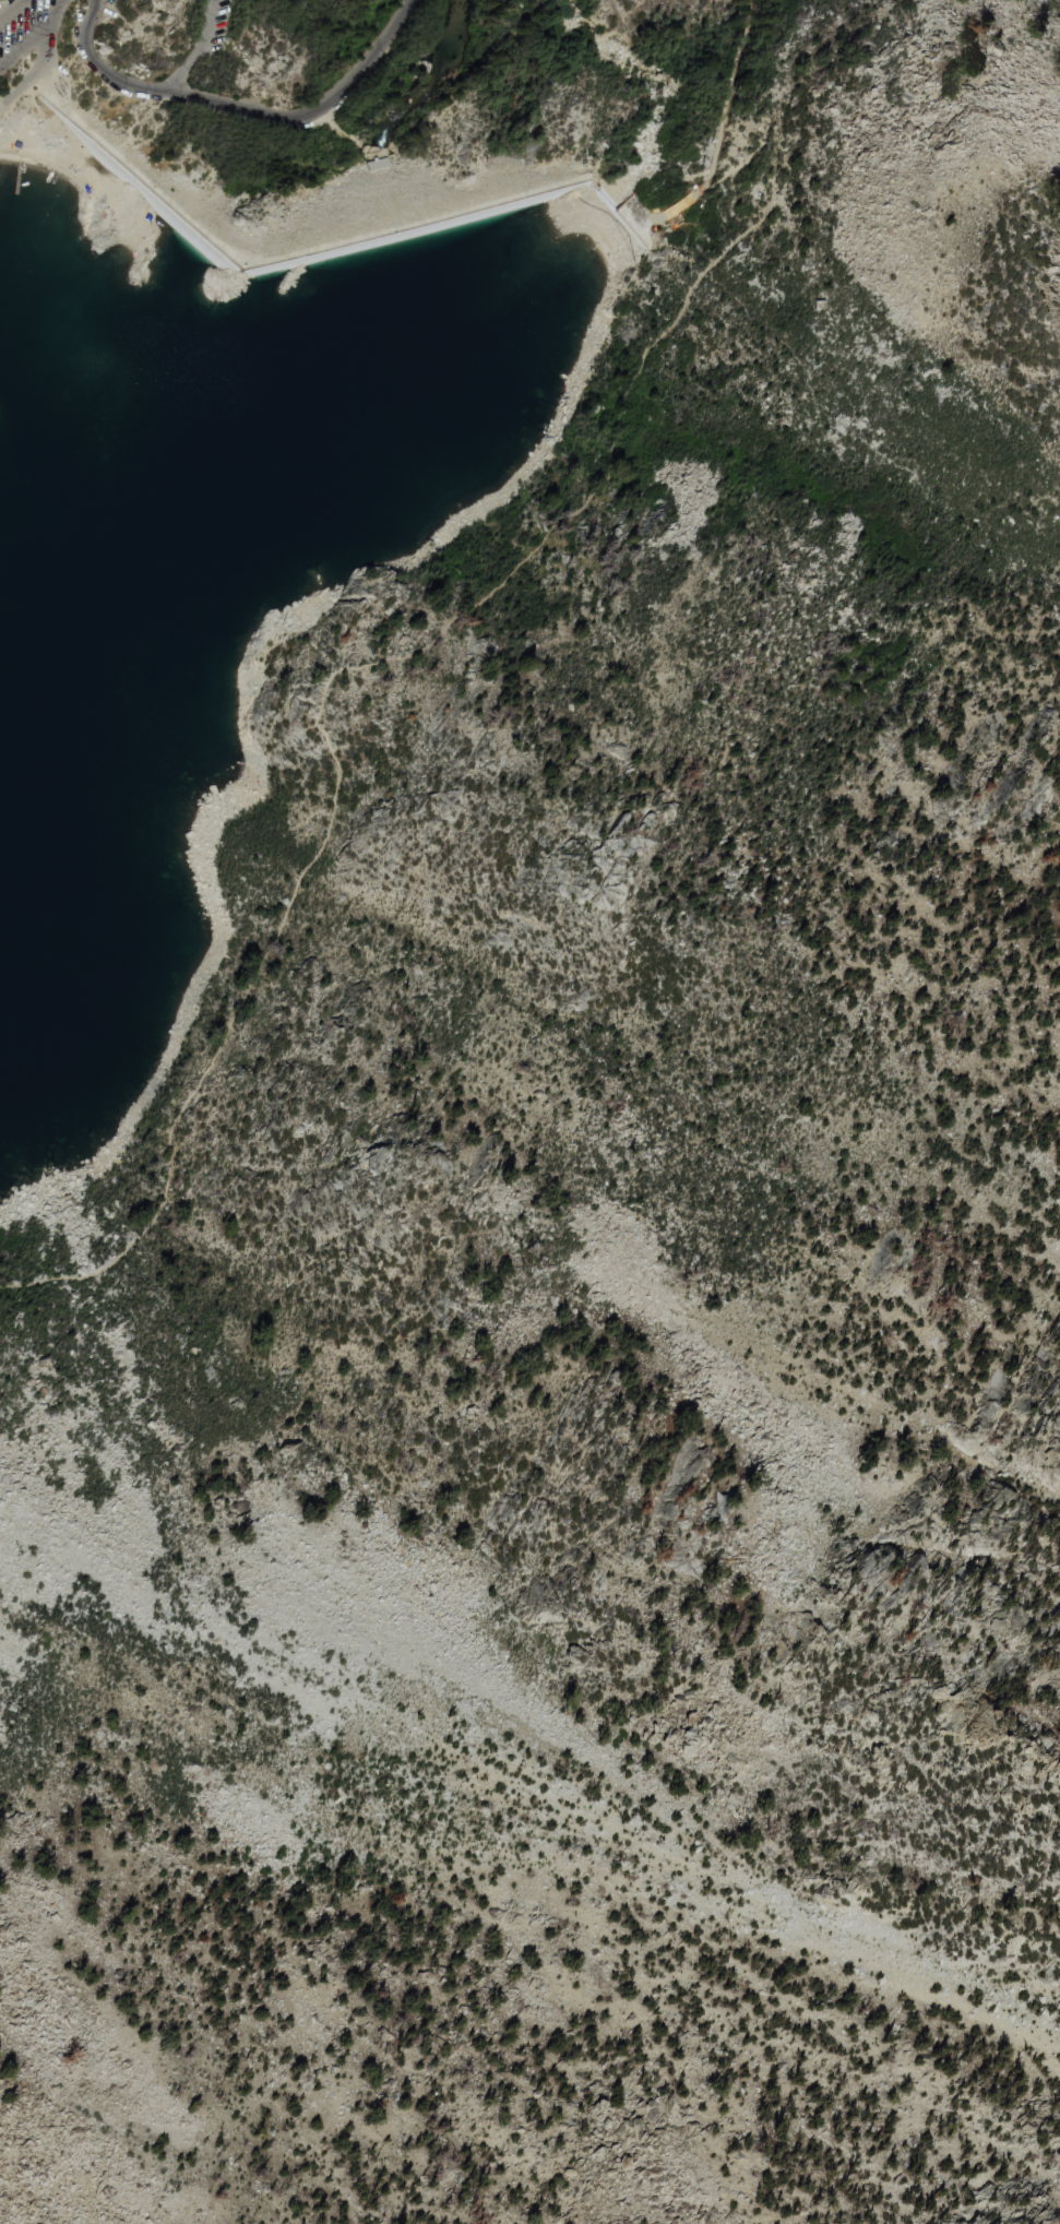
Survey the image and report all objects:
road: (10, 8)
road: (53, 11)
parking lot: (209, 25)
parking lot: (20, 27)
road: (25, 44)
road: (194, 49)
road: (33, 70)
road: (242, 108)
road: (337, 131)
building: (376, 163)
road: (348, 237)
dam: (321, 254)
road: (440, 645)

